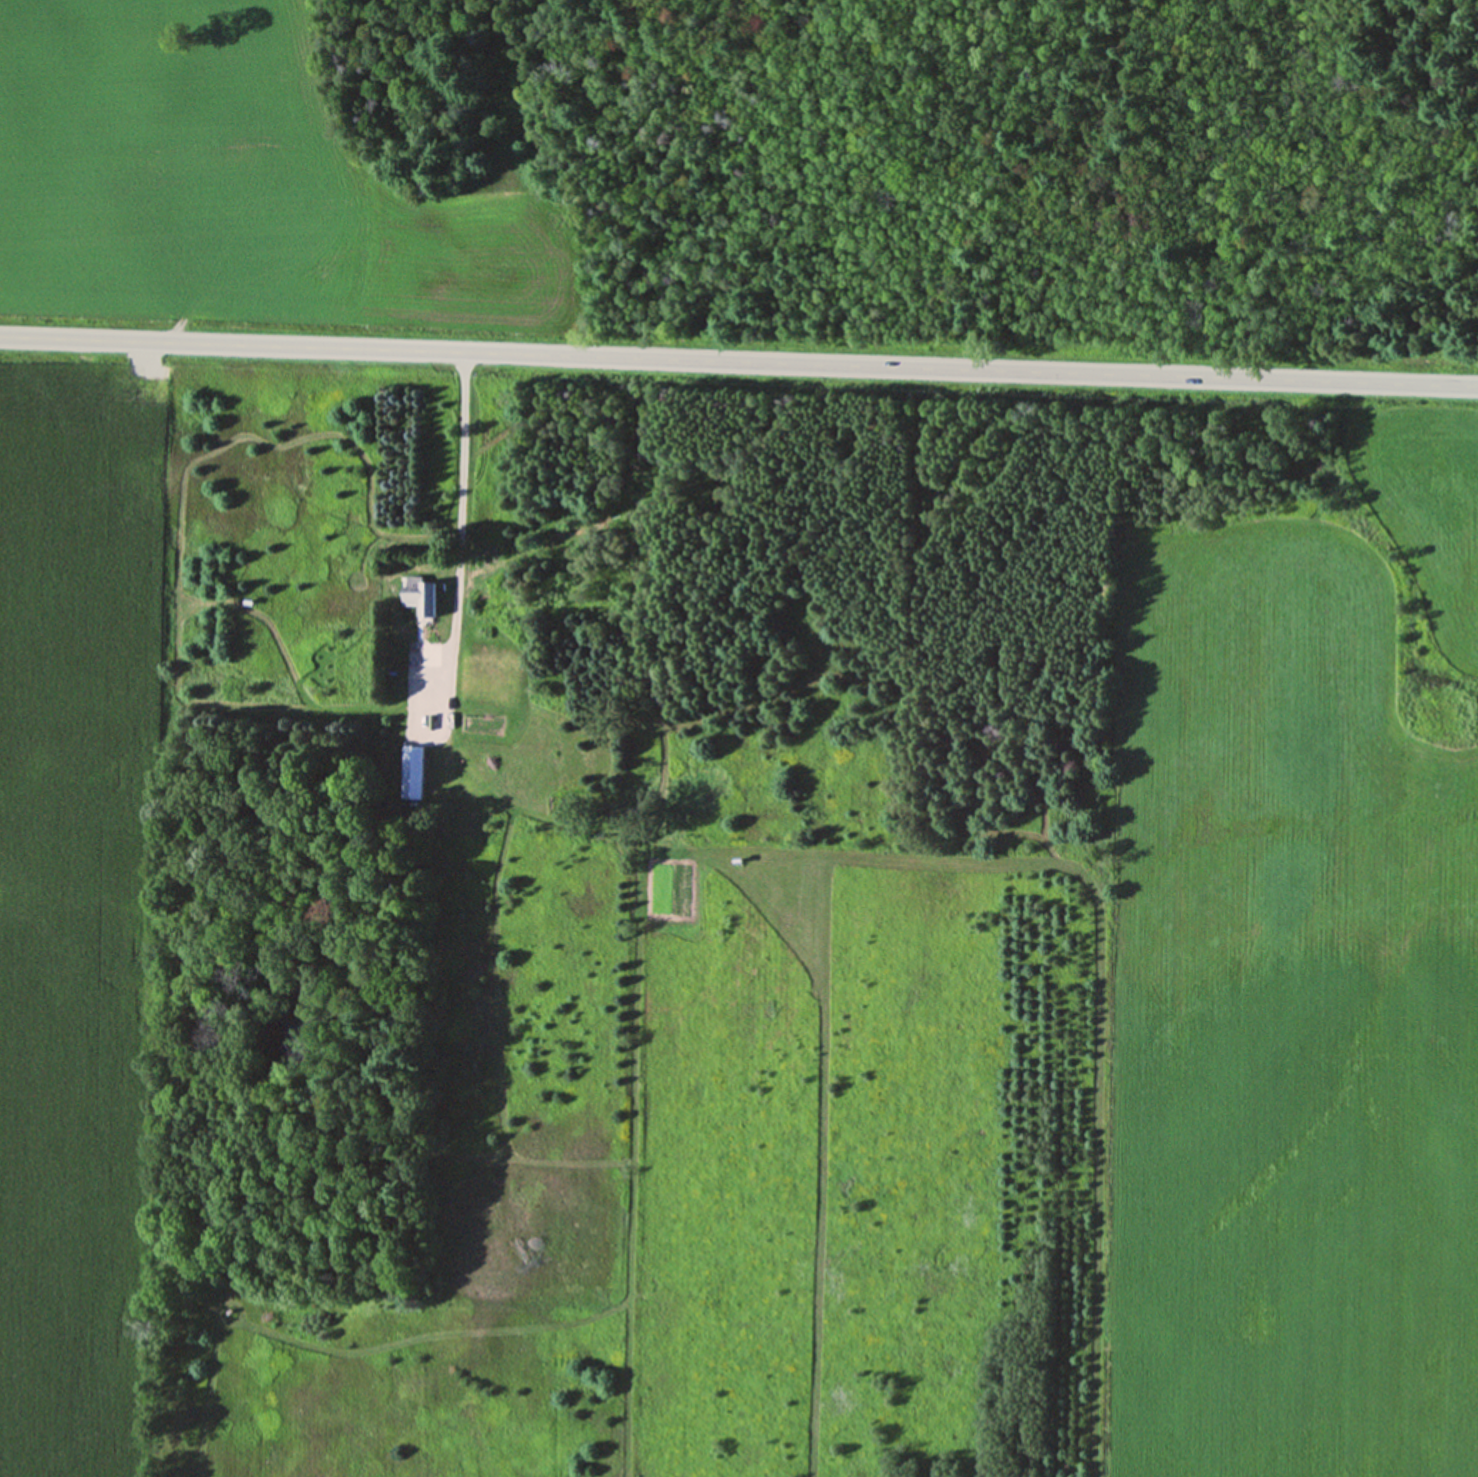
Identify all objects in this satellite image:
road: (738, 360)
road: (461, 502)
building: (413, 594)

